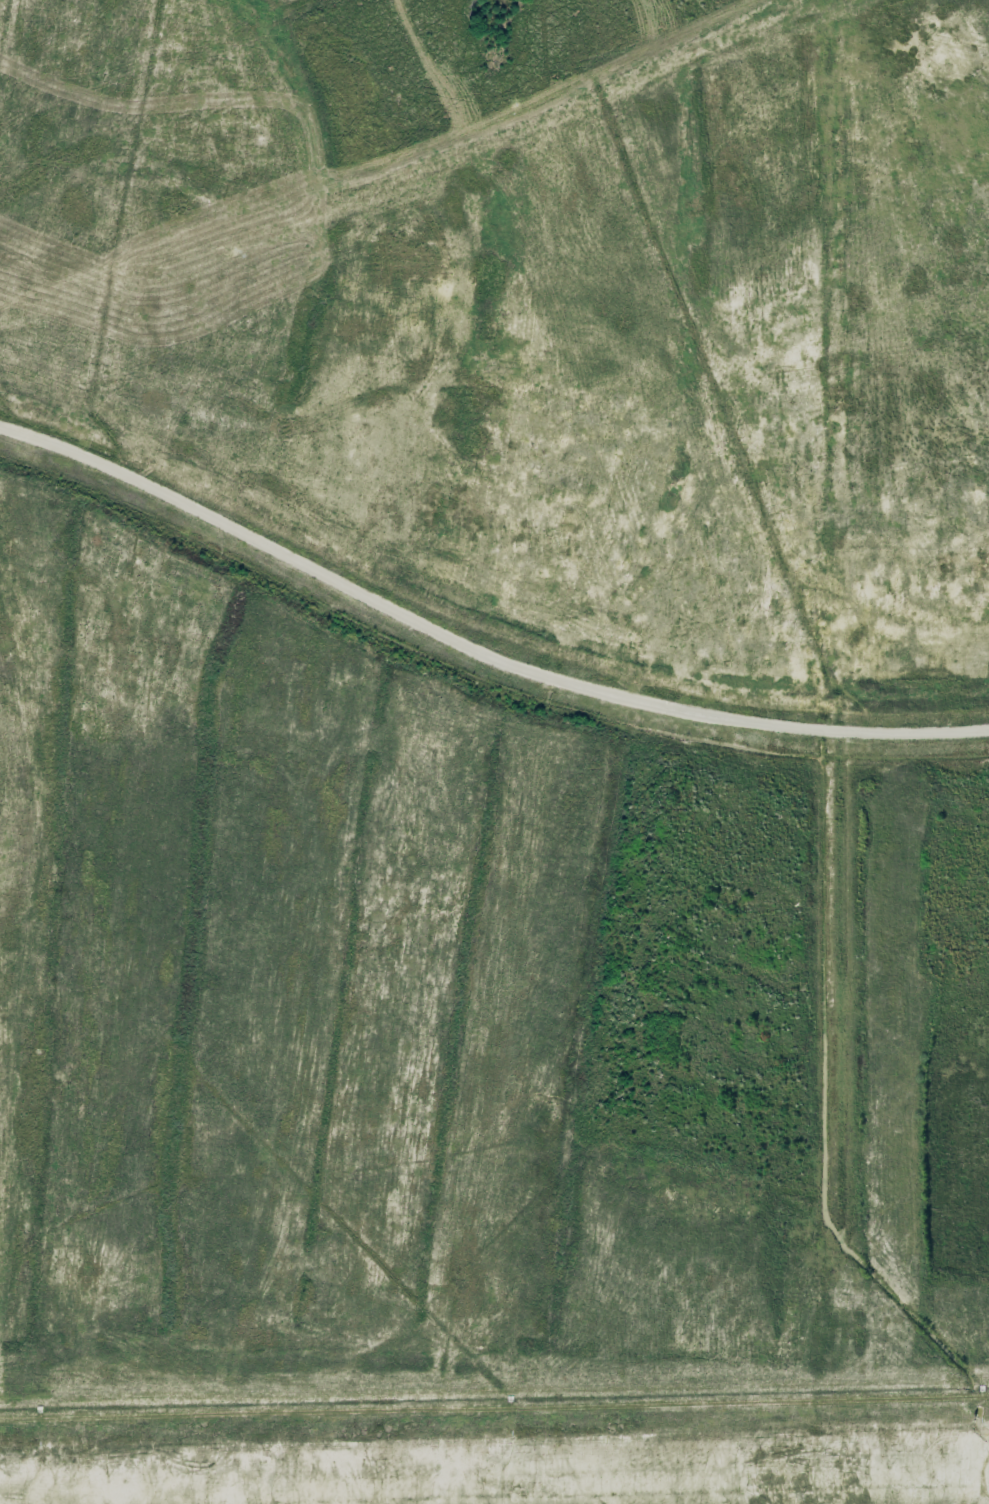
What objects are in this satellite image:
road: (474, 653)

